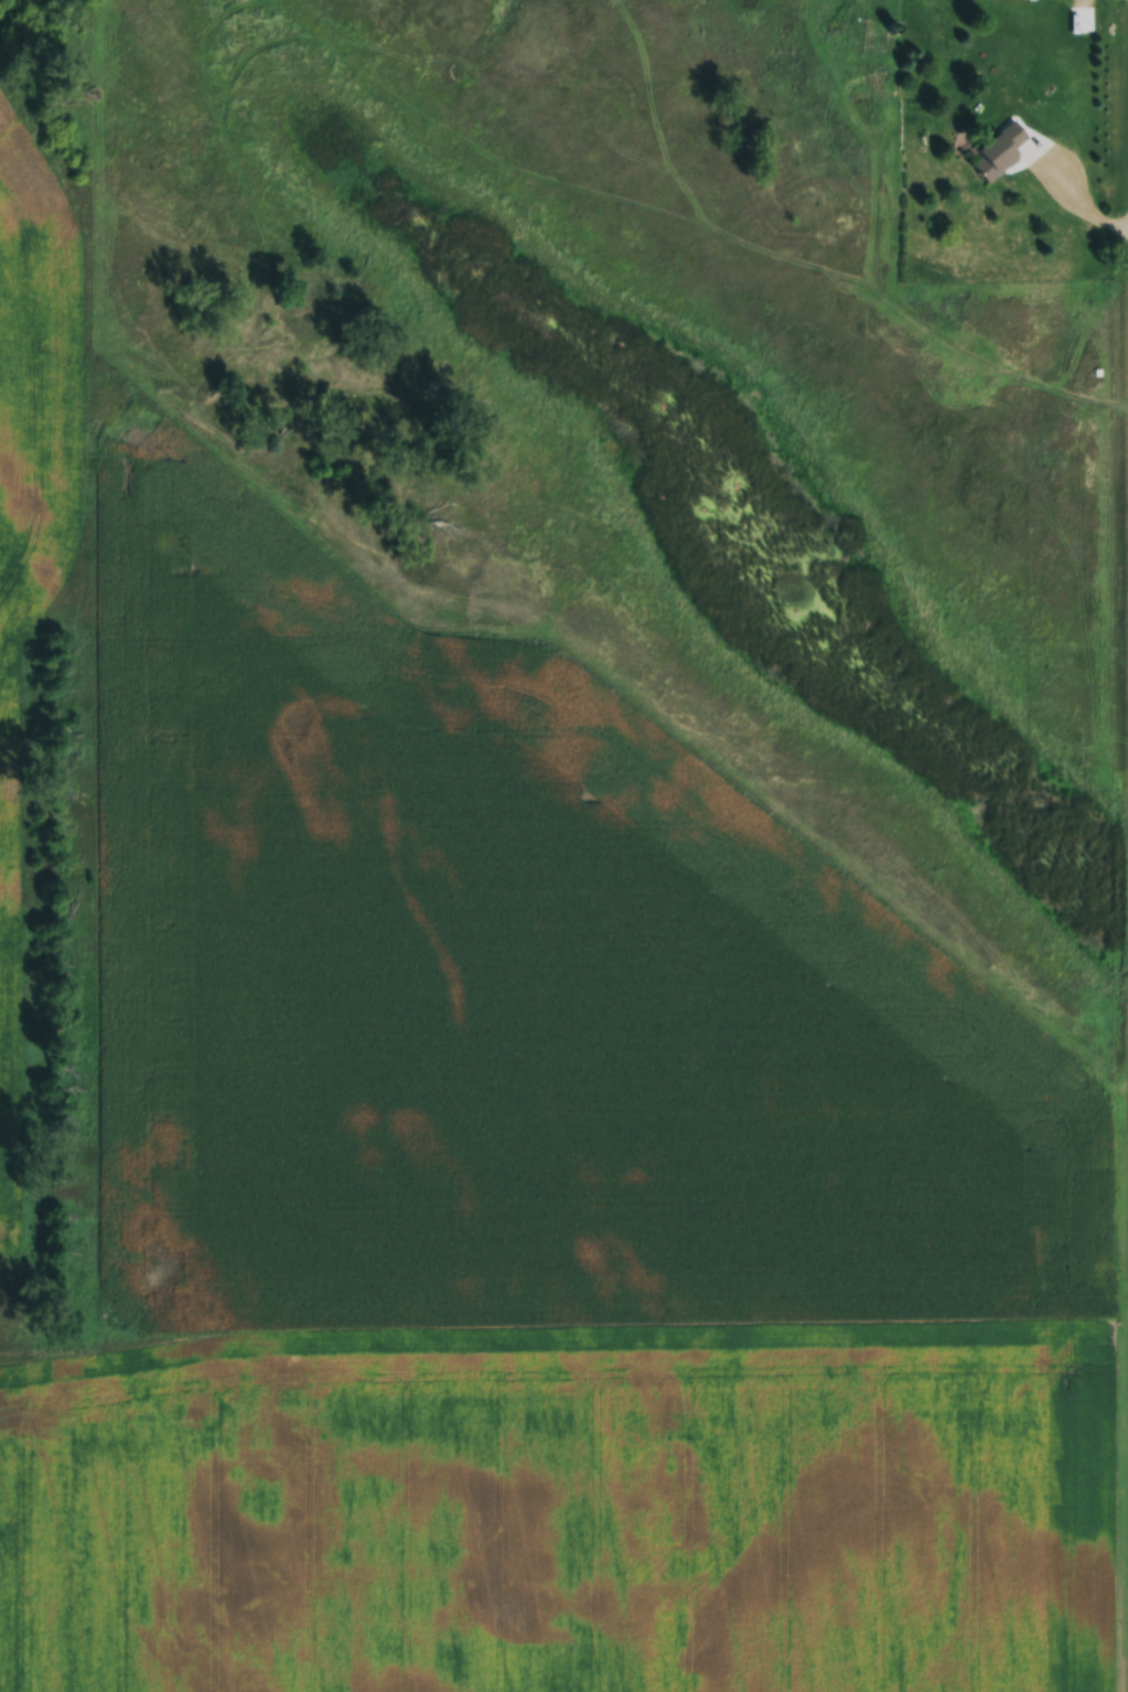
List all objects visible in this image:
building: (995, 153)

